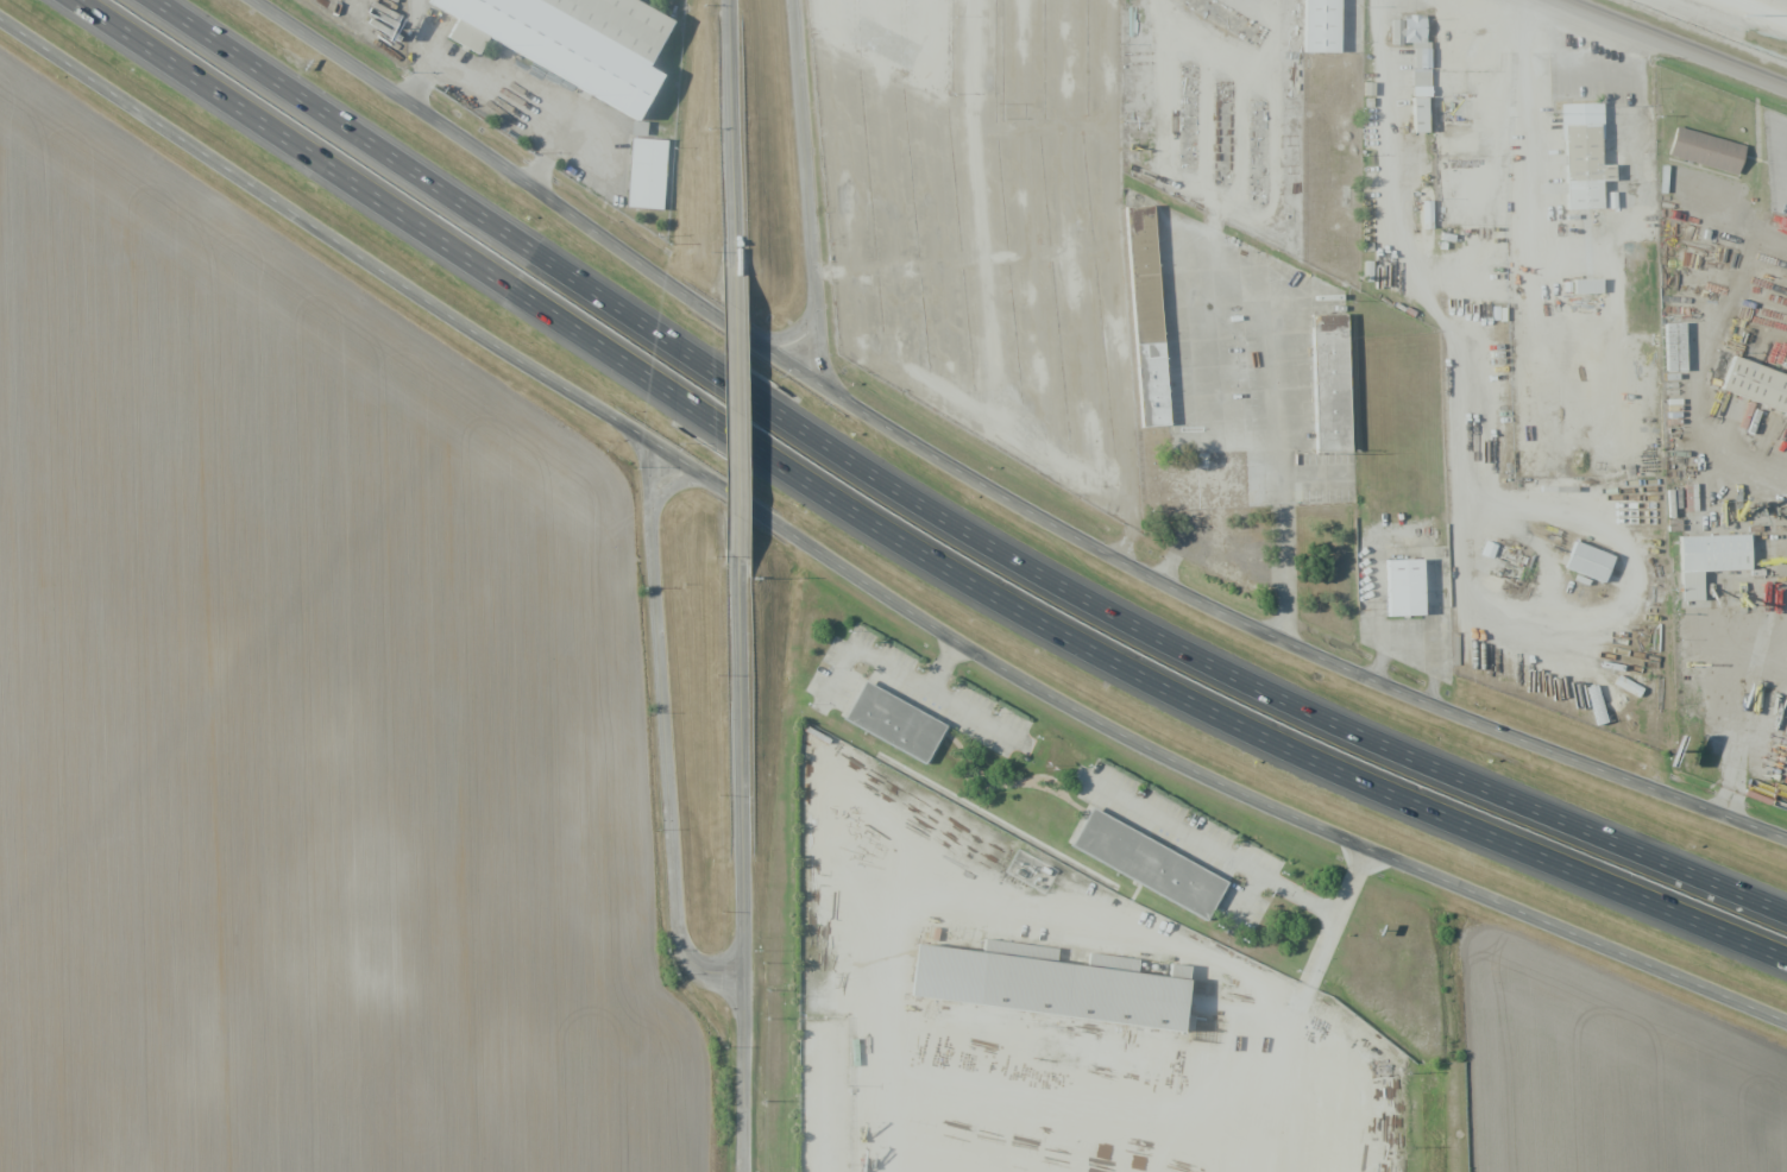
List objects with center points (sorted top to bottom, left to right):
power tower: (1744, 14)
building: (1328, 27)
road: (1697, 36)
building: (571, 40)
road: (429, 52)
building: (1415, 63)
road: (314, 101)
building: (1453, 108)
road: (512, 111)
road: (446, 124)
road: (734, 133)
road: (806, 152)
building: (1709, 152)
building: (1582, 157)
building: (652, 174)
road: (372, 199)
road: (350, 242)
building: (1586, 286)
road: (703, 296)
building: (1152, 321)
road: (798, 328)
road: (667, 338)
road: (817, 340)
building: (1680, 351)
building: (1761, 386)
building: (1336, 389)
building: (1643, 410)
road: (734, 414)
road: (728, 429)
road: (646, 472)
building: (1251, 486)
road: (672, 487)
building: (1209, 493)
road: (749, 502)
building: (1709, 560)
building: (1594, 566)
building: (1411, 591)
road: (1258, 631)
road: (1313, 717)
crop: (306, 723)
building: (898, 726)
road: (1271, 741)
road: (669, 765)
road: (1273, 811)
road: (745, 865)
building: (1157, 868)
building: (1056, 996)
crop: (1604, 1073)
building: (1100, 1085)

